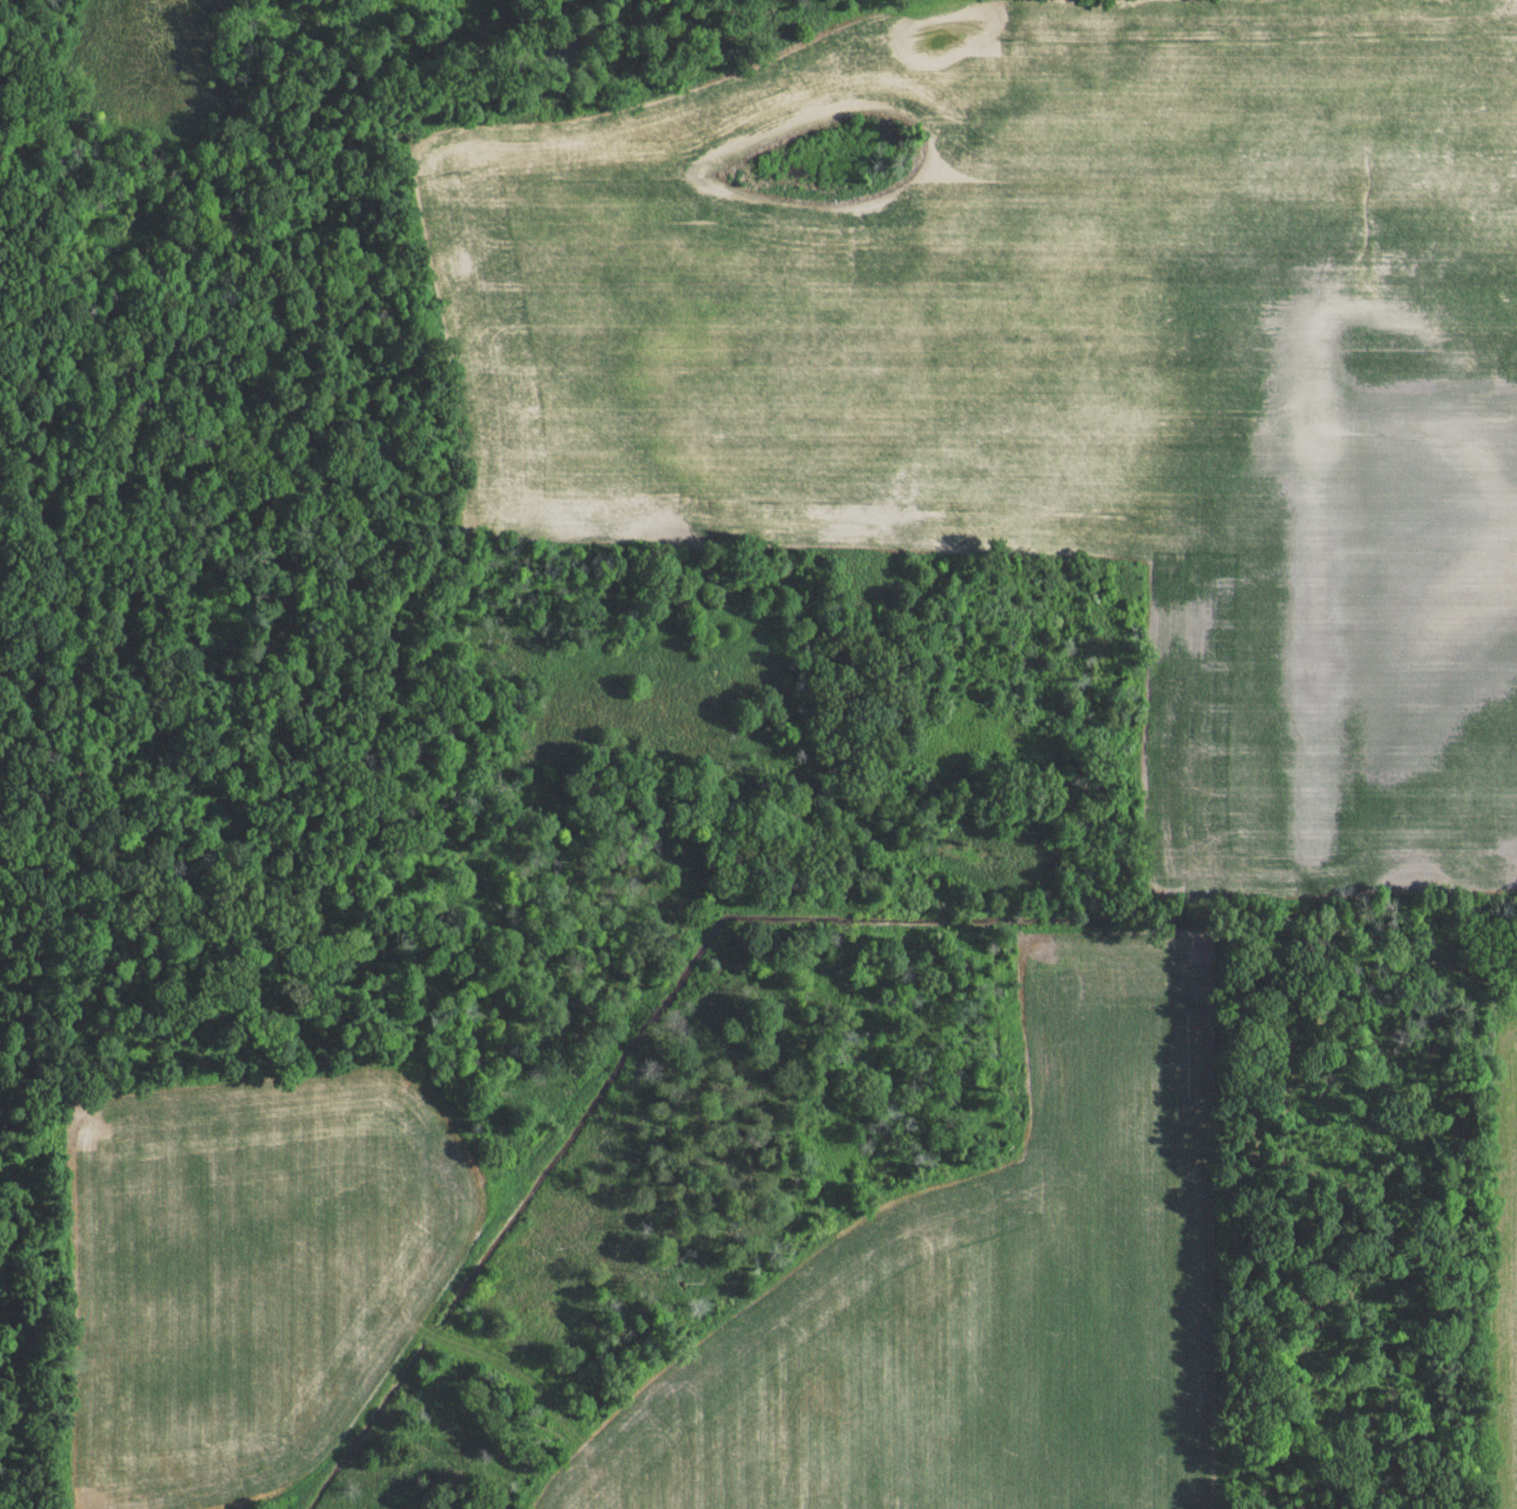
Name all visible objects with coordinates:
crop: (1508, 1266)
crop: (249, 1270)
crop: (990, 1298)
road: (430, 1329)
crop: (570, 1488)

